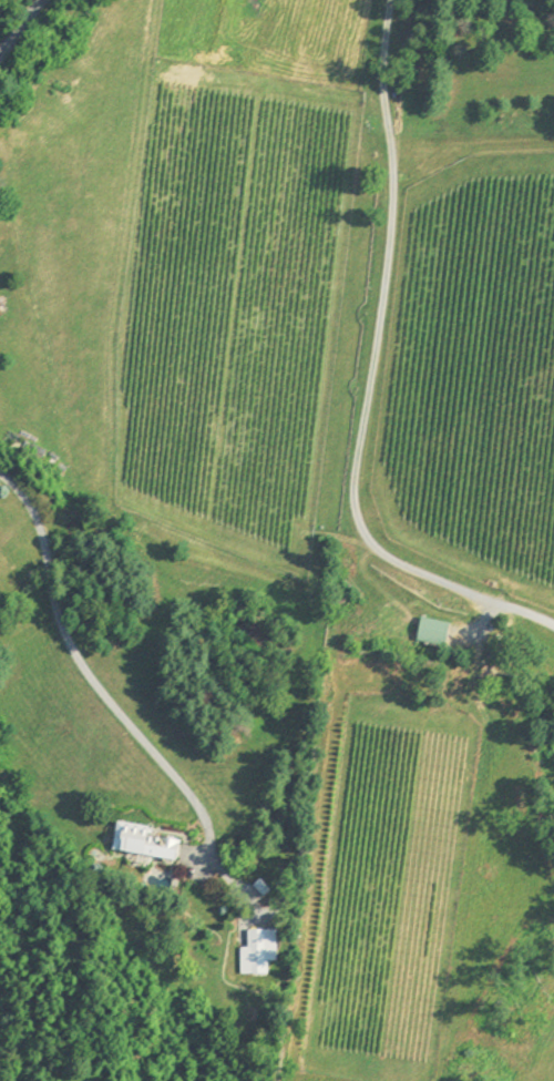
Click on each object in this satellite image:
road: (19, 24)
road: (369, 376)
building: (433, 632)
road: (89, 676)
building: (147, 842)
building: (257, 940)

